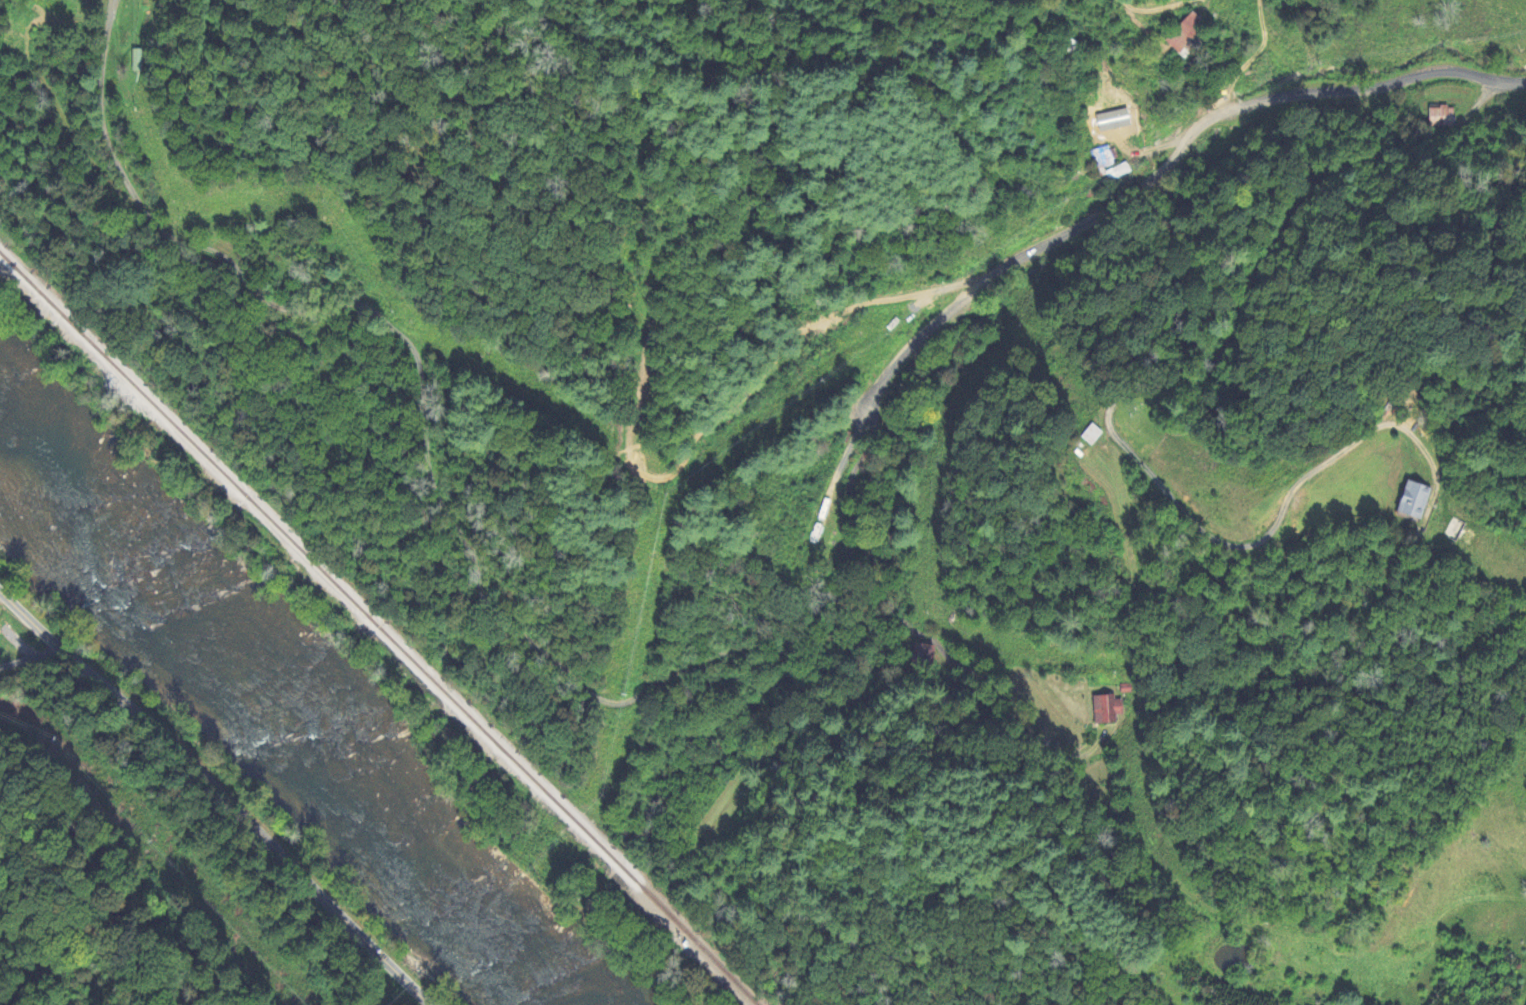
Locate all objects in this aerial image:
building: (1192, 36)
building: (1437, 119)
building: (1117, 127)
building: (1104, 158)
road: (1166, 166)
building: (1114, 176)
road: (1159, 351)
building: (1415, 501)
railway: (377, 627)
river: (282, 717)
road: (220, 791)

